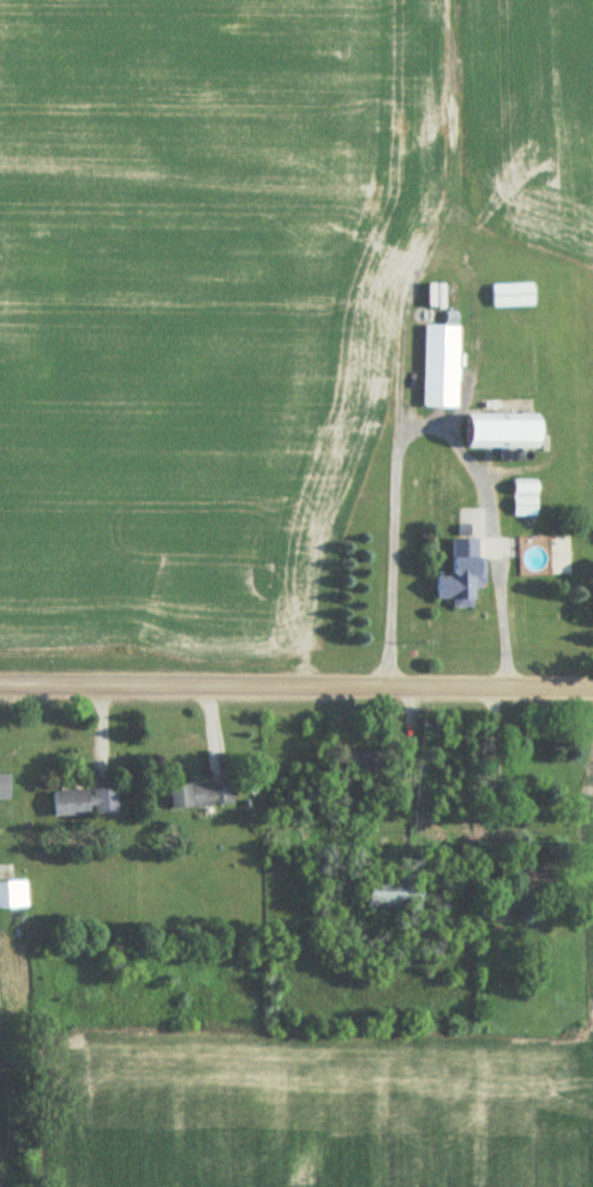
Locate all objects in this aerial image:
building: (511, 297)
building: (439, 368)
road: (431, 428)
building: (503, 434)
building: (523, 500)
building: (462, 575)
road: (296, 693)
building: (359, 763)
road: (497, 779)
building: (4, 788)
building: (199, 797)
building: (85, 803)
building: (538, 885)
building: (12, 896)
building: (393, 896)
building: (498, 911)

